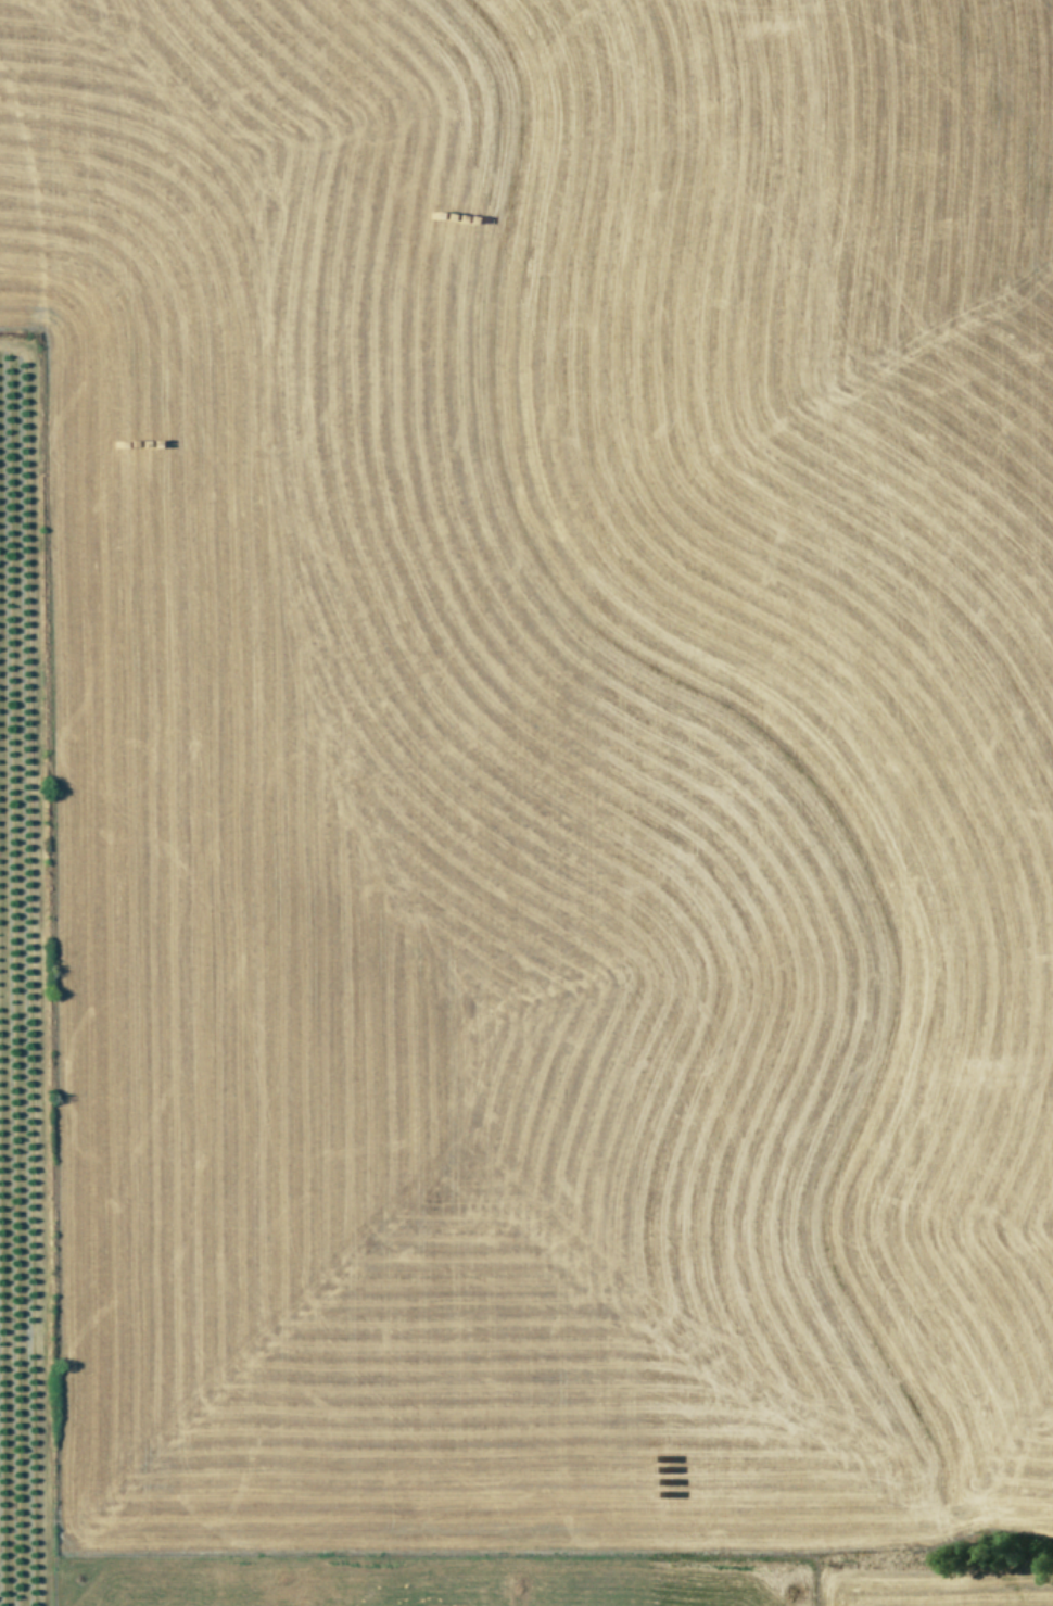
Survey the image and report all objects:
crop: (526, 802)

